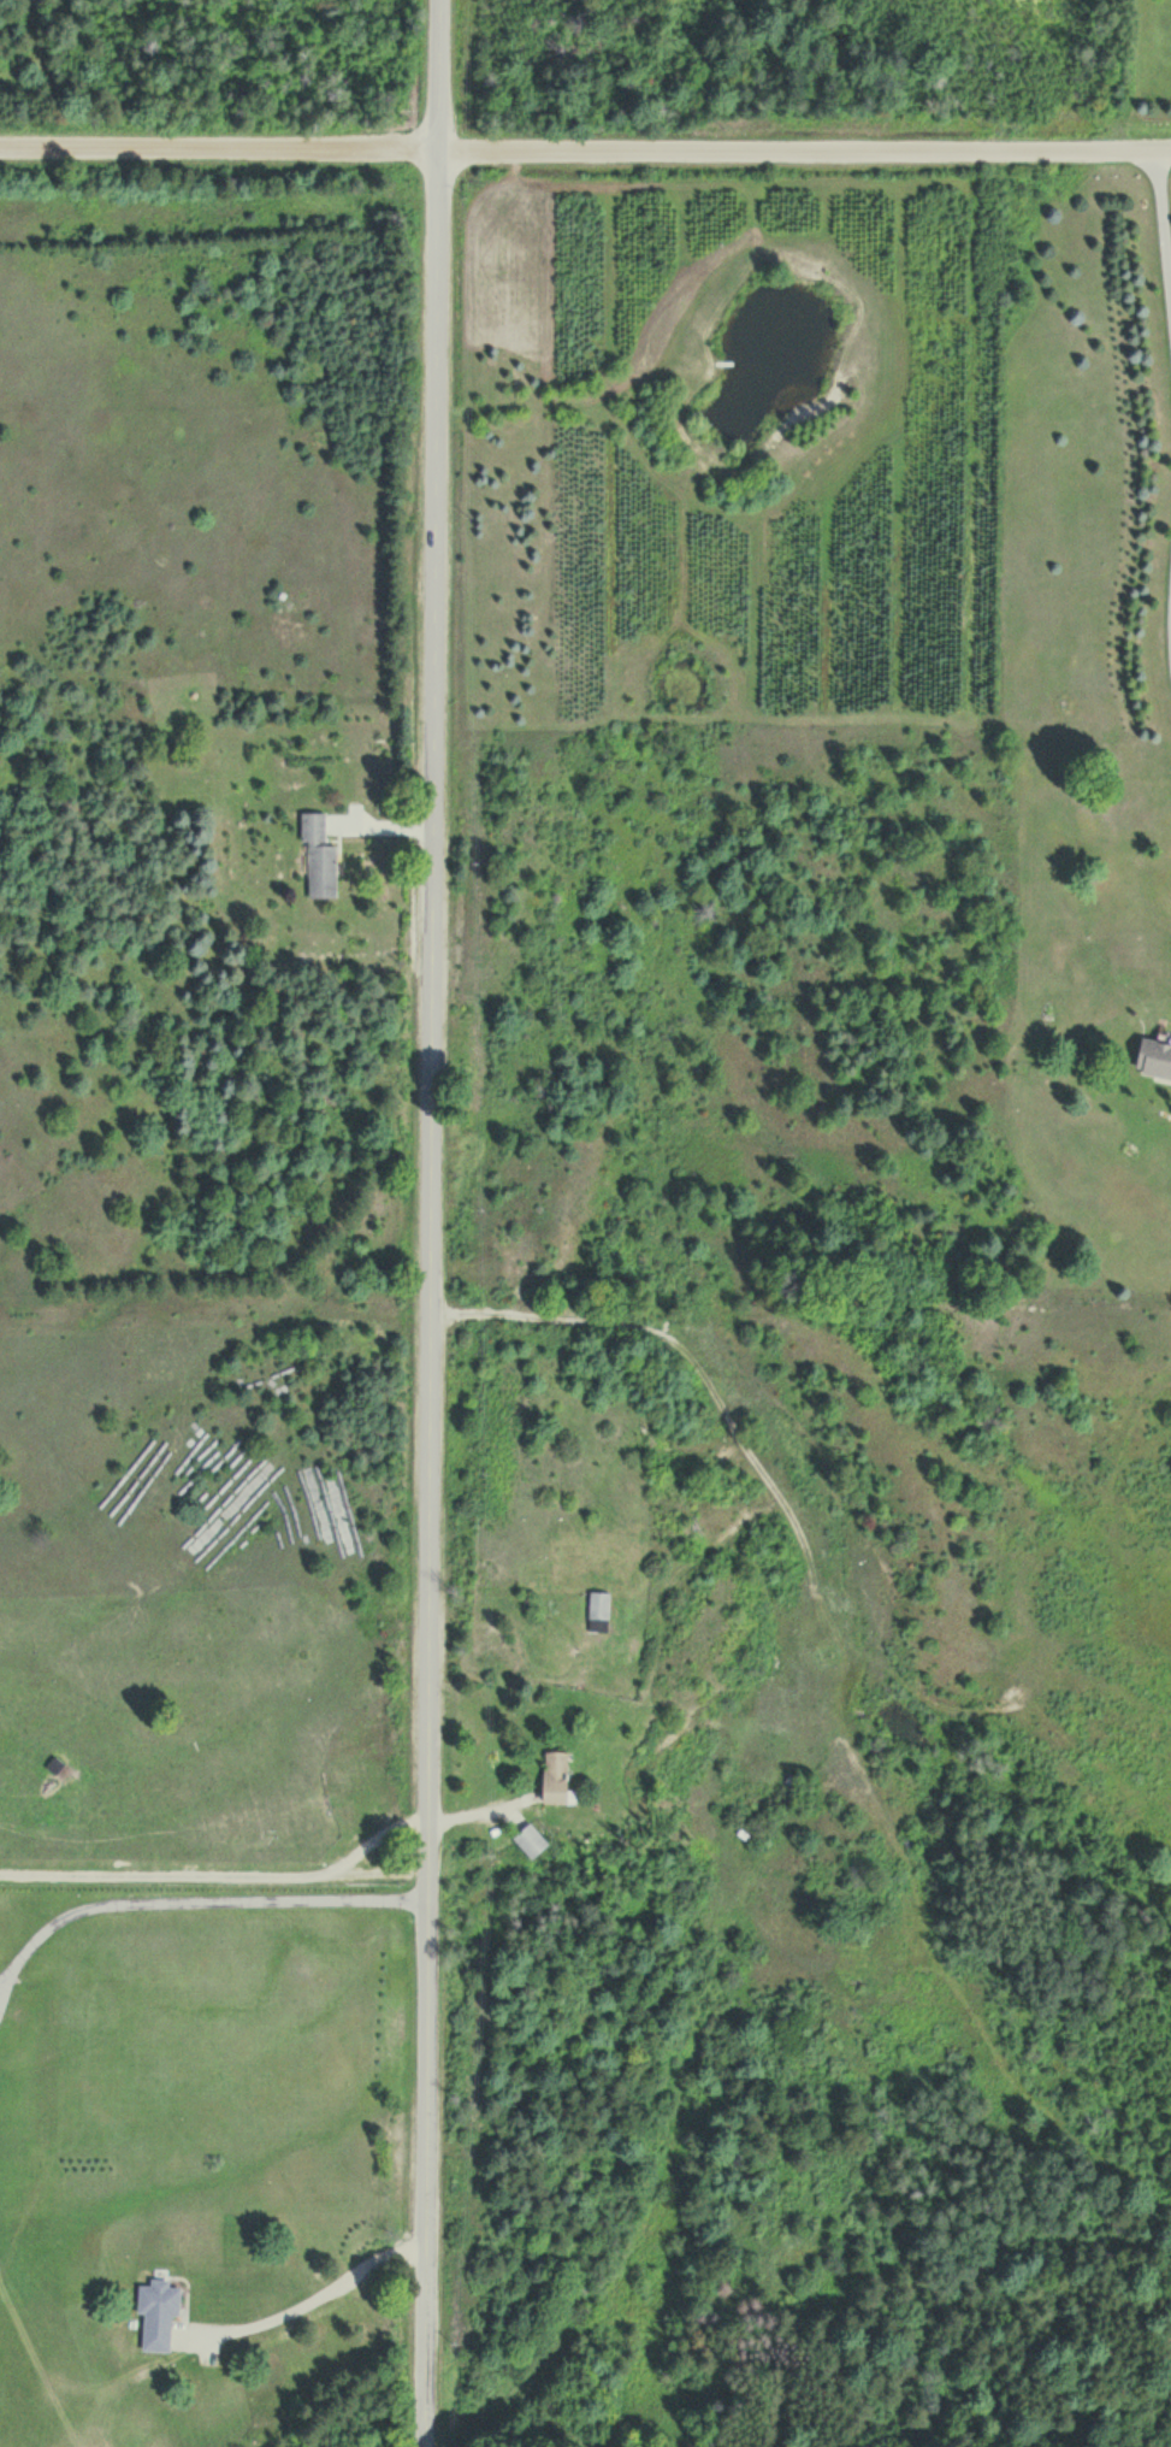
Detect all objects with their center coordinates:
road: (218, 148)
road: (803, 153)
building: (319, 856)
building: (1154, 1057)
road: (427, 1222)
building: (598, 1612)
building: (555, 1777)
building: (531, 1840)
building: (159, 2315)

